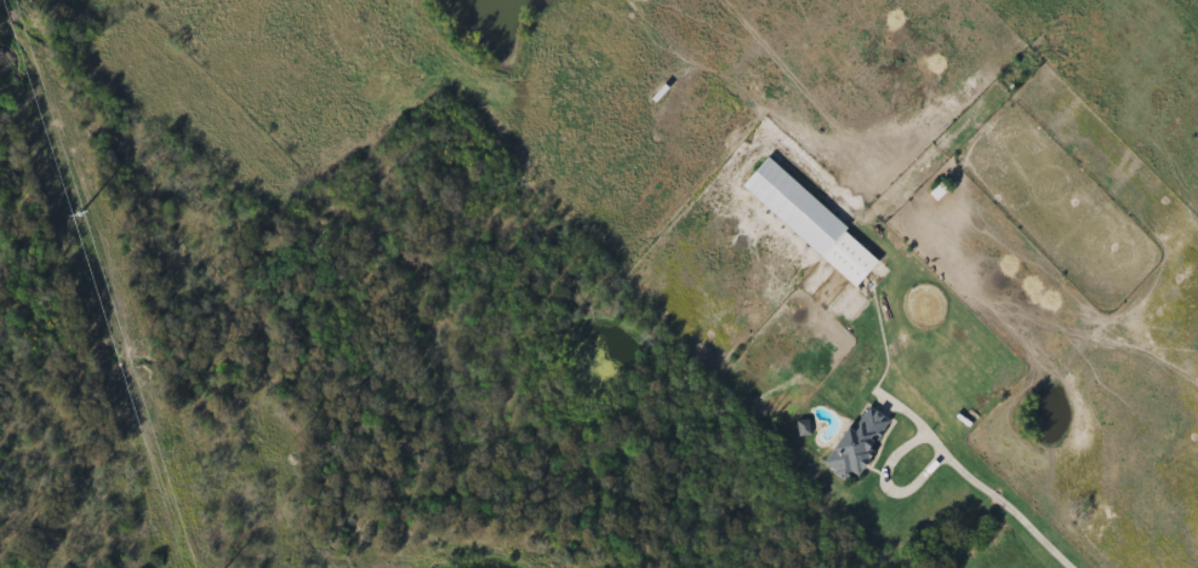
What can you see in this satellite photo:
power tower: (80, 217)
building: (809, 223)
building: (857, 443)
road: (1008, 507)

